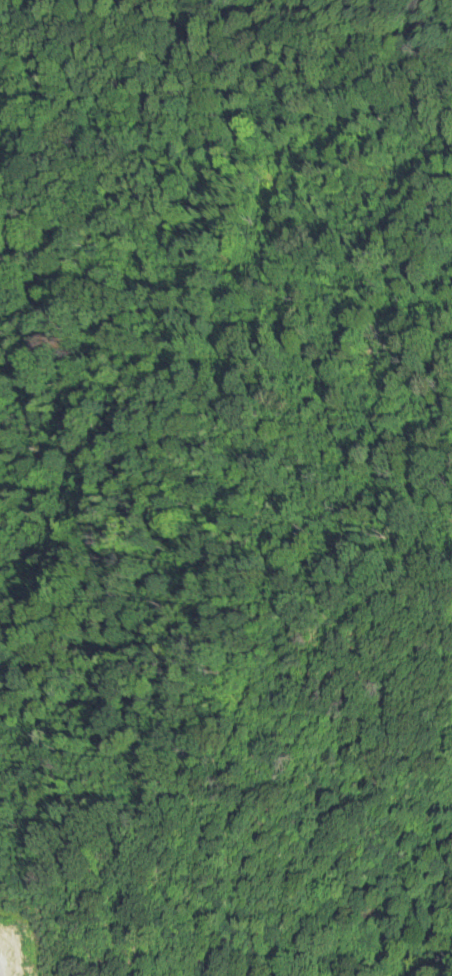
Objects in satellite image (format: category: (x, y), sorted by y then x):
quarry: (19, 932)

